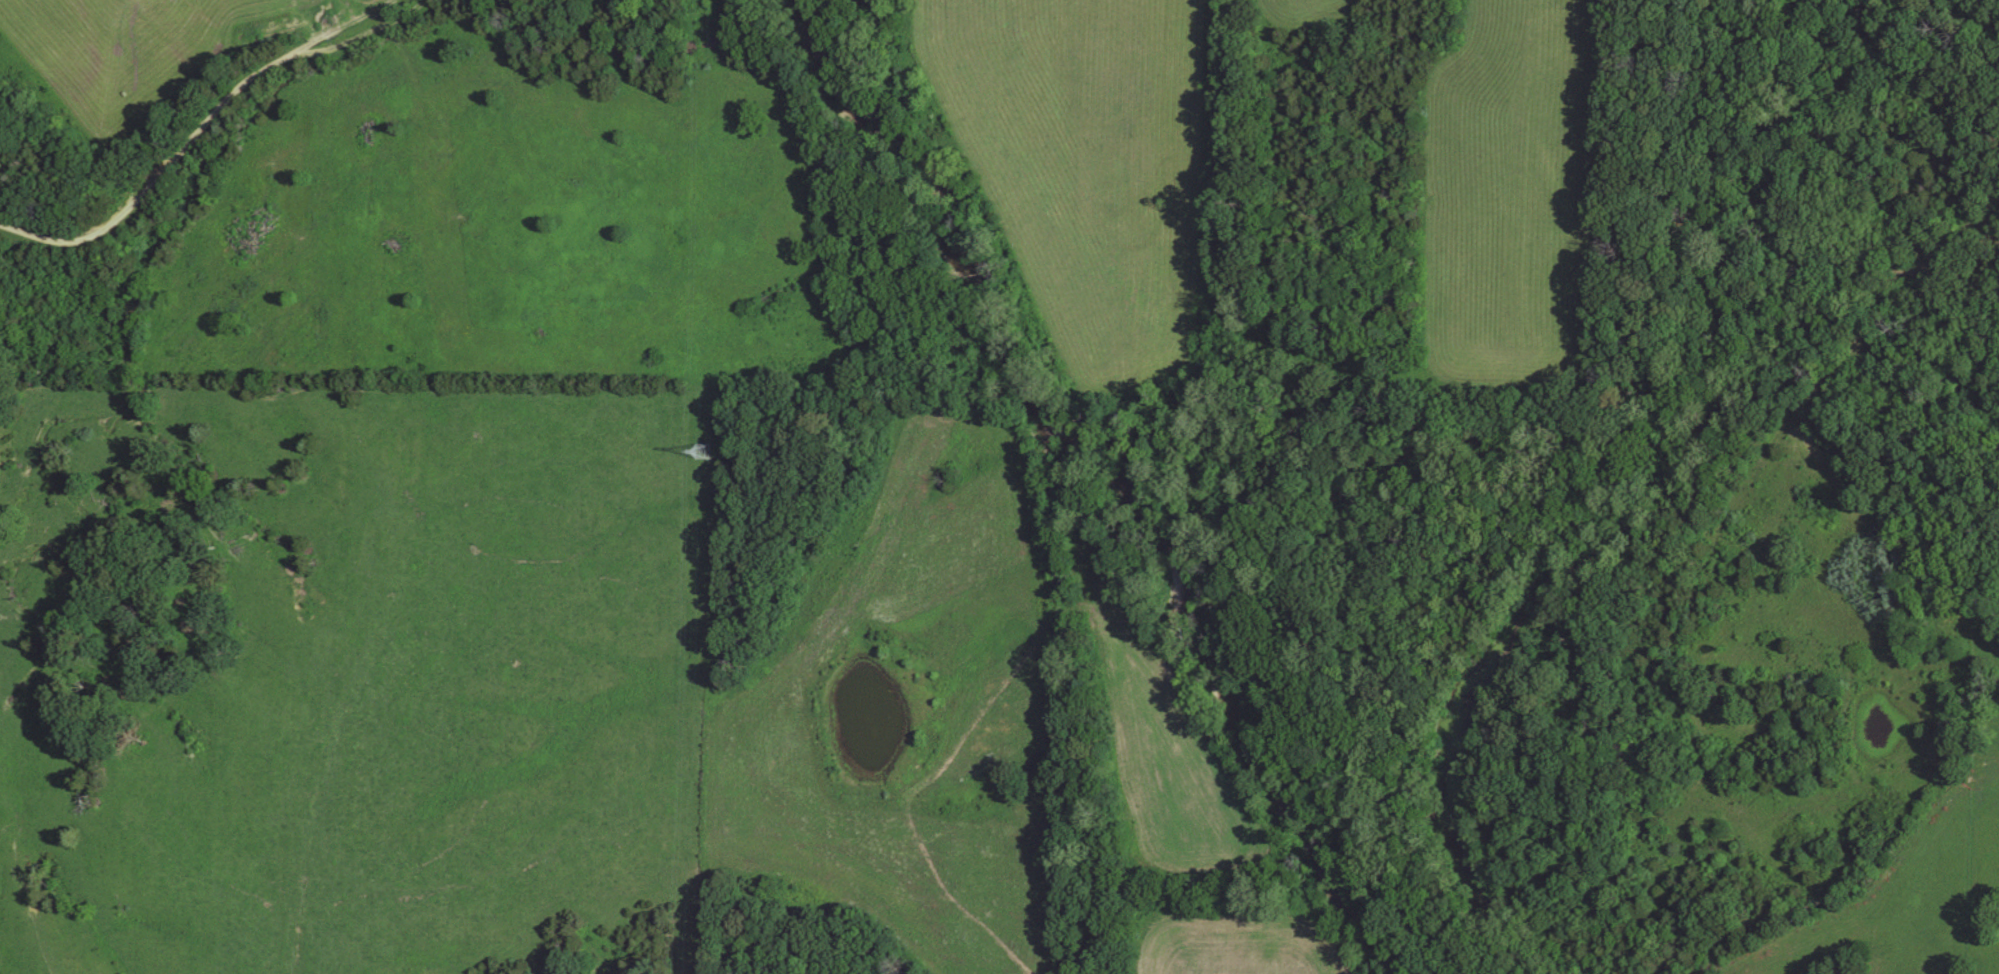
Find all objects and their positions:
power tower: (702, 452)

